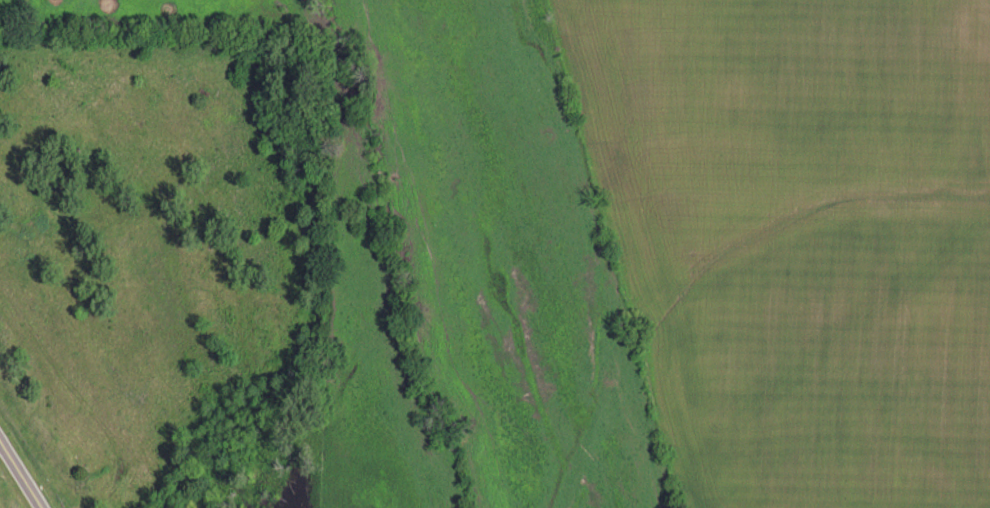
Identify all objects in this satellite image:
road: (21, 474)

